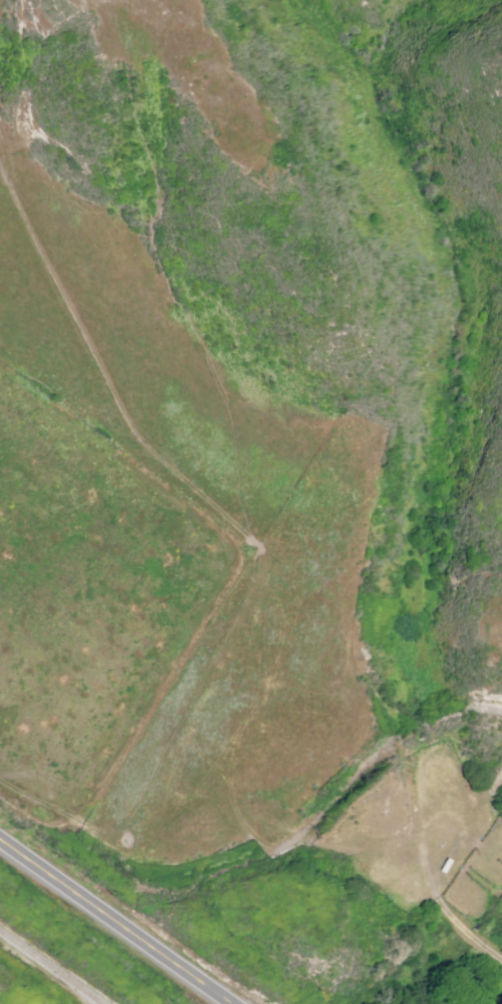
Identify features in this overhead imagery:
road: (137, 7)
road: (251, 538)
road: (234, 552)
crop: (84, 599)
road: (375, 761)
road: (489, 791)
road: (471, 801)
road: (40, 803)
road: (360, 852)
road: (203, 880)
road: (115, 921)
road: (466, 931)
railway: (52, 966)
park: (18, 991)

